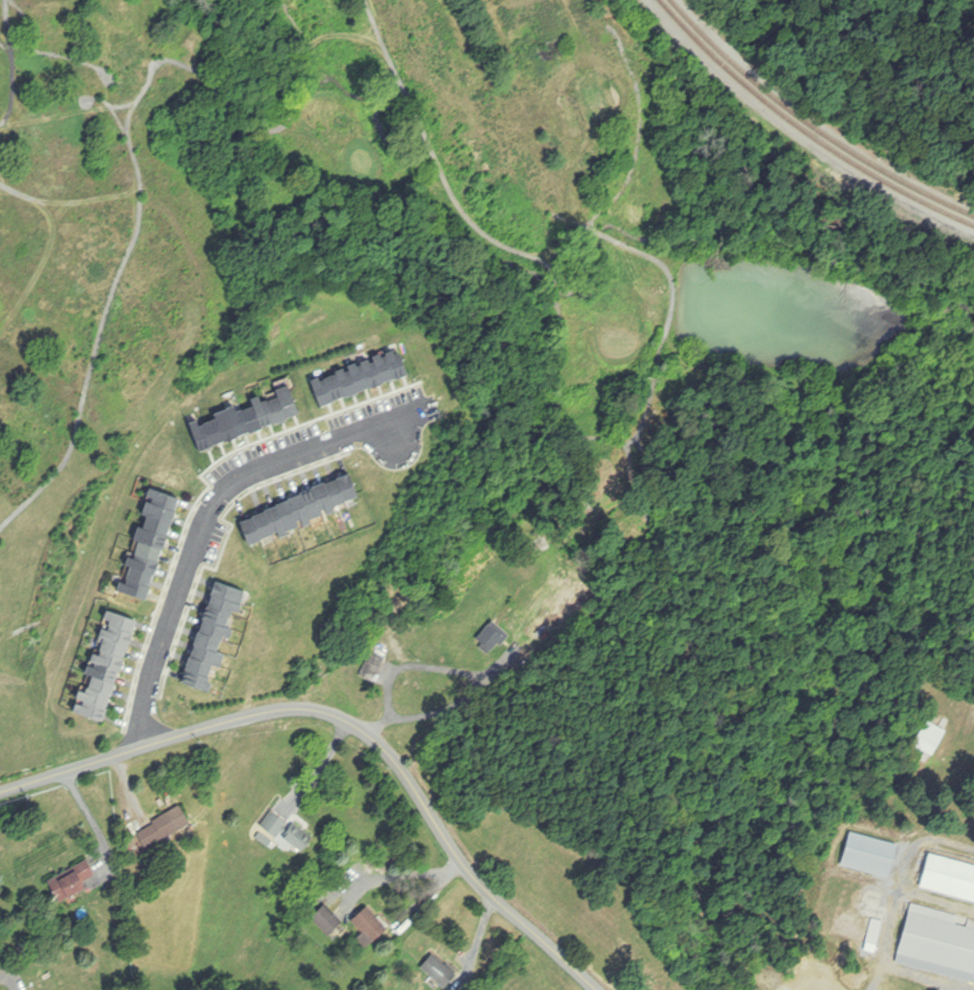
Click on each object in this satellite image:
railway: (812, 123)
railway: (805, 129)
park: (90, 391)
building: (249, 419)
road: (211, 509)
building: (151, 544)
building: (216, 633)
building: (492, 638)
road: (418, 664)
building: (107, 666)
building: (373, 666)
road: (452, 702)
road: (351, 721)
building: (932, 738)
road: (319, 767)
road: (91, 820)
building: (165, 828)
building: (287, 832)
building: (950, 877)
building: (73, 882)
building: (370, 927)
building: (939, 938)
building: (440, 971)

